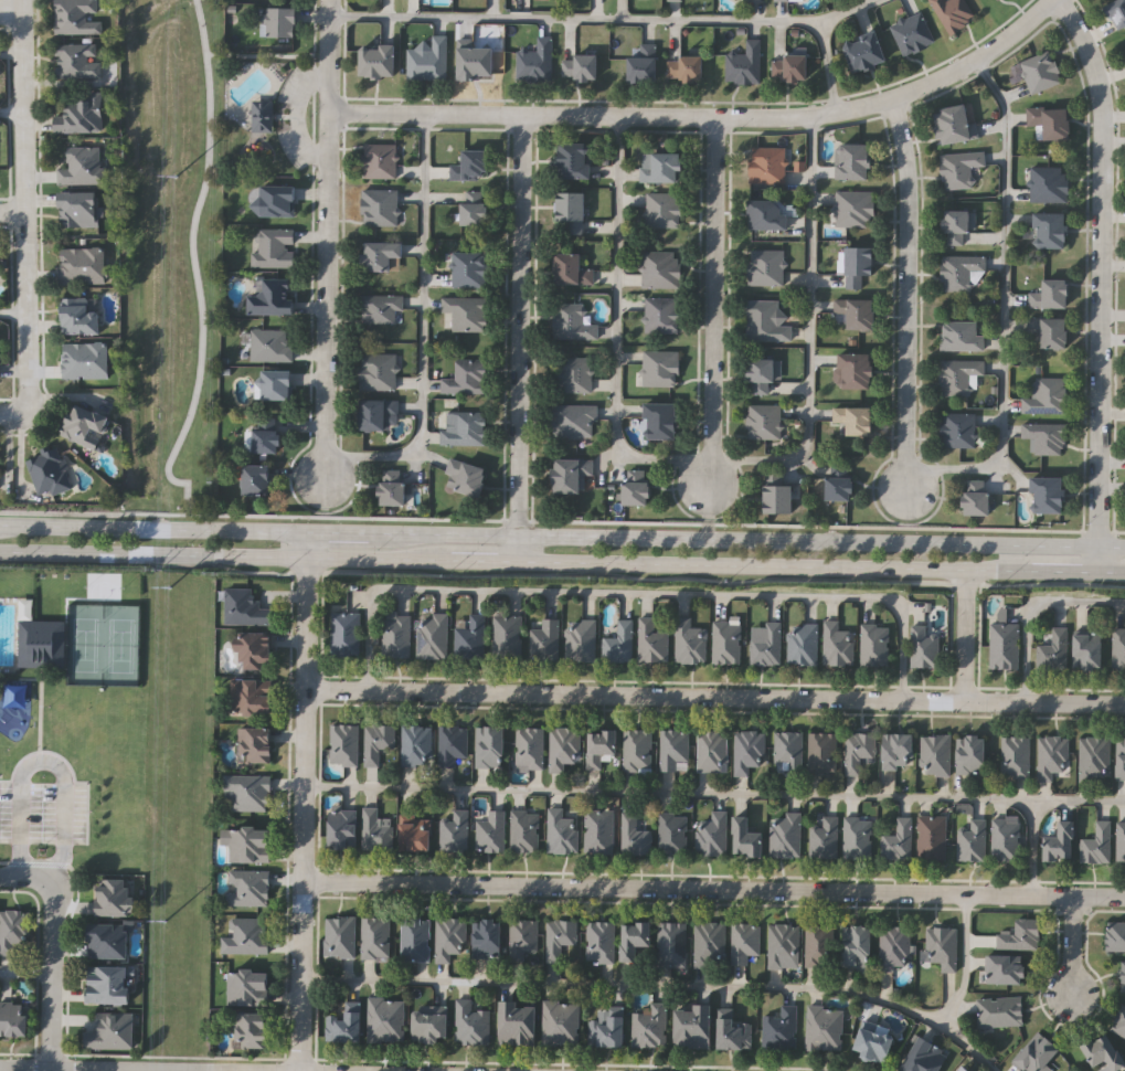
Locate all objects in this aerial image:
building: (676, 0)
building: (751, 0)
building: (784, 0)
building: (997, 0)
road: (11, 9)
road: (846, 10)
building: (952, 13)
building: (1116, 13)
building: (78, 18)
road: (573, 18)
building: (283, 23)
building: (912, 34)
building: (1124, 47)
building: (861, 54)
building: (78, 61)
building: (431, 61)
building: (381, 62)
building: (538, 62)
building: (478, 64)
road: (827, 64)
building: (646, 65)
building: (744, 65)
building: (582, 68)
building: (688, 70)
building: (788, 70)
building: (1039, 73)
road: (12, 110)
building: (82, 116)
road: (704, 116)
building: (264, 117)
building: (1049, 123)
building: (952, 126)
building: (382, 161)
building: (577, 161)
building: (850, 162)
building: (84, 166)
building: (475, 166)
building: (766, 167)
building: (664, 169)
building: (959, 169)
building: (1049, 185)
building: (277, 202)
road: (24, 206)
building: (382, 208)
building: (476, 209)
building: (853, 209)
road: (12, 210)
building: (665, 210)
building: (79, 211)
building: (575, 212)
building: (765, 215)
road: (327, 227)
building: (954, 227)
building: (1047, 231)
park: (170, 248)
building: (275, 248)
building: (384, 256)
road: (193, 266)
building: (84, 267)
building: (855, 267)
building: (471, 268)
building: (765, 268)
building: (574, 269)
building: (662, 271)
building: (958, 272)
road: (903, 283)
road: (1093, 283)
building: (1048, 296)
building: (276, 298)
road: (1004, 299)
road: (713, 301)
building: (383, 309)
road: (14, 312)
building: (469, 314)
building: (853, 314)
building: (664, 316)
building: (81, 318)
building: (765, 321)
building: (575, 324)
road: (424, 327)
building: (1050, 332)
road: (519, 336)
building: (961, 337)
building: (274, 346)
building: (0, 361)
building: (86, 361)
building: (664, 370)
building: (381, 372)
building: (852, 372)
building: (761, 374)
building: (577, 375)
building: (959, 378)
building: (468, 379)
building: (279, 385)
building: (1046, 396)
road: (10, 415)
building: (382, 415)
building: (851, 421)
building: (576, 422)
building: (665, 422)
building: (763, 422)
building: (86, 427)
building: (467, 428)
building: (956, 430)
building: (1044, 438)
building: (269, 439)
road: (713, 458)
road: (325, 468)
building: (50, 473)
building: (574, 475)
building: (469, 478)
building: (259, 480)
road: (908, 483)
building: (395, 488)
building: (639, 488)
building: (836, 489)
building: (1043, 496)
building: (973, 499)
building: (775, 500)
road: (55, 513)
road: (149, 515)
road: (562, 533)
road: (224, 556)
road: (484, 559)
road: (774, 564)
road: (1061, 573)
road: (1107, 574)
road: (637, 592)
building: (247, 607)
road: (1033, 611)
building: (346, 633)
building: (397, 635)
road: (965, 635)
building: (434, 636)
building: (471, 637)
building: (508, 638)
building: (581, 639)
building: (545, 640)
building: (652, 640)
building: (620, 641)
building: (690, 641)
building: (728, 641)
building: (802, 643)
building: (44, 644)
building: (837, 644)
building: (766, 645)
building: (873, 645)
building: (1002, 645)
building: (923, 646)
building: (1118, 647)
building: (1085, 648)
building: (257, 649)
building: (1053, 649)
road: (715, 696)
building: (255, 697)
building: (379, 742)
building: (344, 743)
building: (453, 743)
building: (417, 744)
building: (256, 745)
building: (490, 746)
building: (565, 746)
building: (602, 746)
building: (530, 747)
building: (638, 749)
building: (676, 750)
building: (713, 750)
building: (749, 750)
building: (858, 750)
building: (895, 750)
building: (788, 751)
building: (821, 752)
building: (967, 753)
building: (935, 754)
building: (1051, 755)
building: (1015, 756)
building: (1119, 757)
building: (1093, 759)
road: (44, 763)
building: (250, 791)
road: (714, 793)
road: (304, 800)
building: (343, 828)
building: (378, 829)
building: (526, 829)
building: (455, 830)
building: (491, 830)
building: (562, 830)
building: (599, 830)
building: (673, 833)
building: (416, 834)
building: (712, 834)
building: (634, 835)
building: (784, 835)
building: (745, 837)
building: (822, 837)
building: (931, 837)
building: (857, 838)
building: (1004, 838)
building: (898, 839)
building: (972, 839)
building: (1057, 840)
building: (1121, 841)
building: (248, 842)
building: (1096, 842)
road: (1032, 847)
road: (22, 877)
building: (250, 887)
road: (714, 889)
building: (116, 895)
building: (12, 929)
building: (1018, 934)
building: (247, 935)
building: (341, 935)
building: (1114, 935)
building: (488, 936)
building: (523, 936)
building: (376, 937)
building: (416, 937)
building: (450, 937)
building: (560, 937)
building: (109, 939)
building: (636, 939)
building: (601, 941)
building: (745, 941)
building: (672, 943)
building: (710, 943)
building: (783, 943)
building: (855, 944)
building: (816, 945)
building: (893, 945)
building: (941, 946)
road: (1071, 947)
road: (966, 962)
building: (1002, 968)
road: (25, 974)
building: (1122, 975)
road: (51, 976)
building: (108, 984)
building: (250, 986)
road: (658, 988)
building: (999, 1010)
building: (14, 1017)
building: (388, 1018)
building: (1118, 1020)
building: (520, 1021)
building: (433, 1022)
building: (473, 1022)
building: (562, 1022)
building: (344, 1025)
building: (649, 1025)
building: (693, 1026)
building: (824, 1027)
building: (254, 1028)
building: (781, 1028)
building: (607, 1030)
building: (110, 1031)
building: (735, 1032)
building: (870, 1042)
building: (1100, 1052)
building: (1033, 1053)
building: (921, 1056)
road: (46, 1069)
building: (959, 1069)

